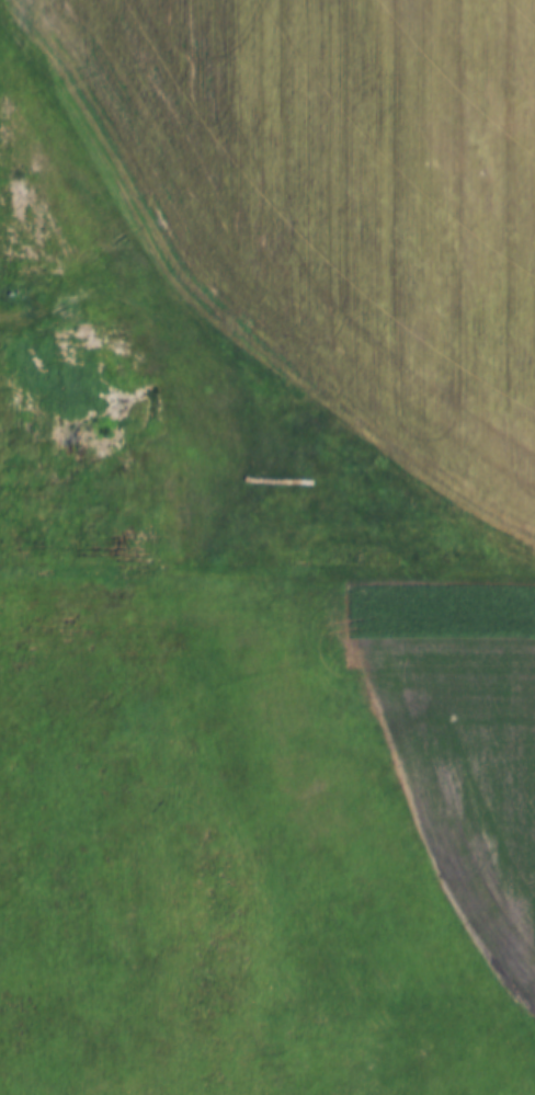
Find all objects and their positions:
building: (186, 914)

